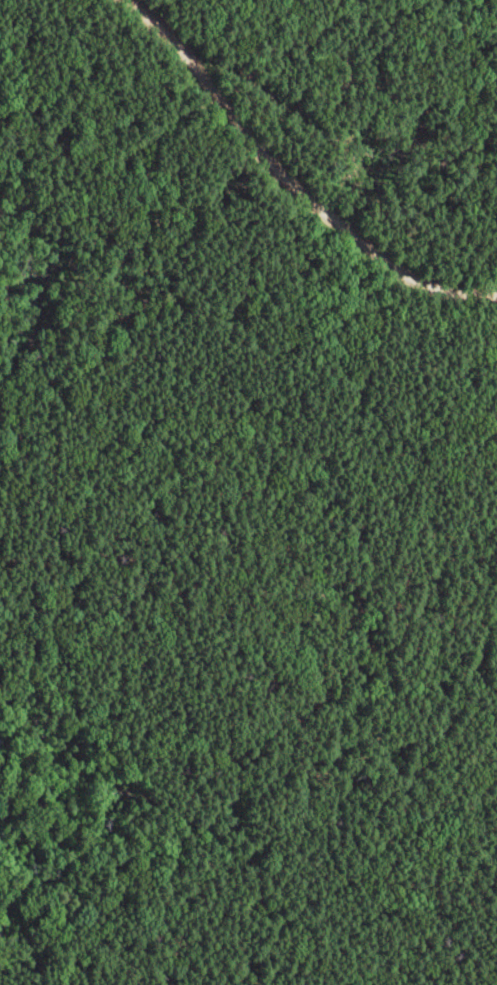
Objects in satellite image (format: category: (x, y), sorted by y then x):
road: (275, 178)

